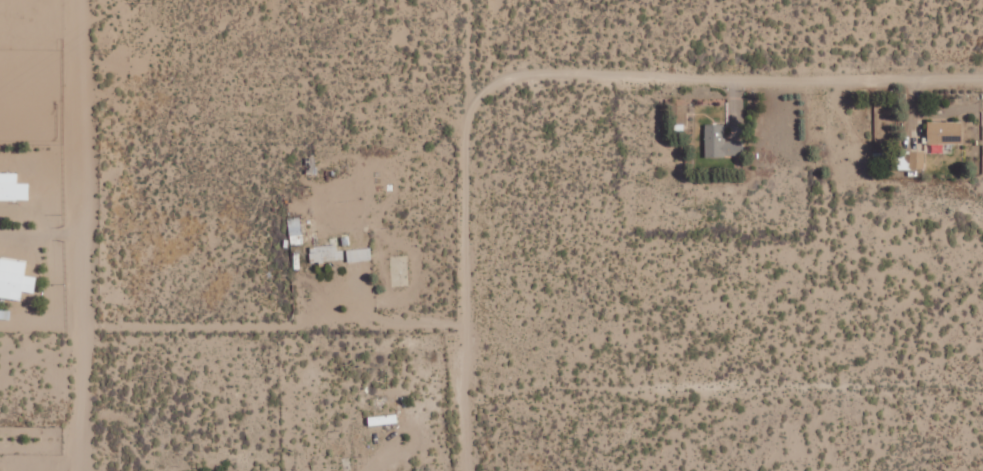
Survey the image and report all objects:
road: (102, 14)
road: (465, 51)
road: (722, 69)
building: (945, 132)
building: (721, 144)
building: (912, 160)
building: (12, 188)
building: (295, 231)
road: (80, 235)
building: (326, 252)
building: (358, 254)
building: (15, 279)
road: (466, 285)

